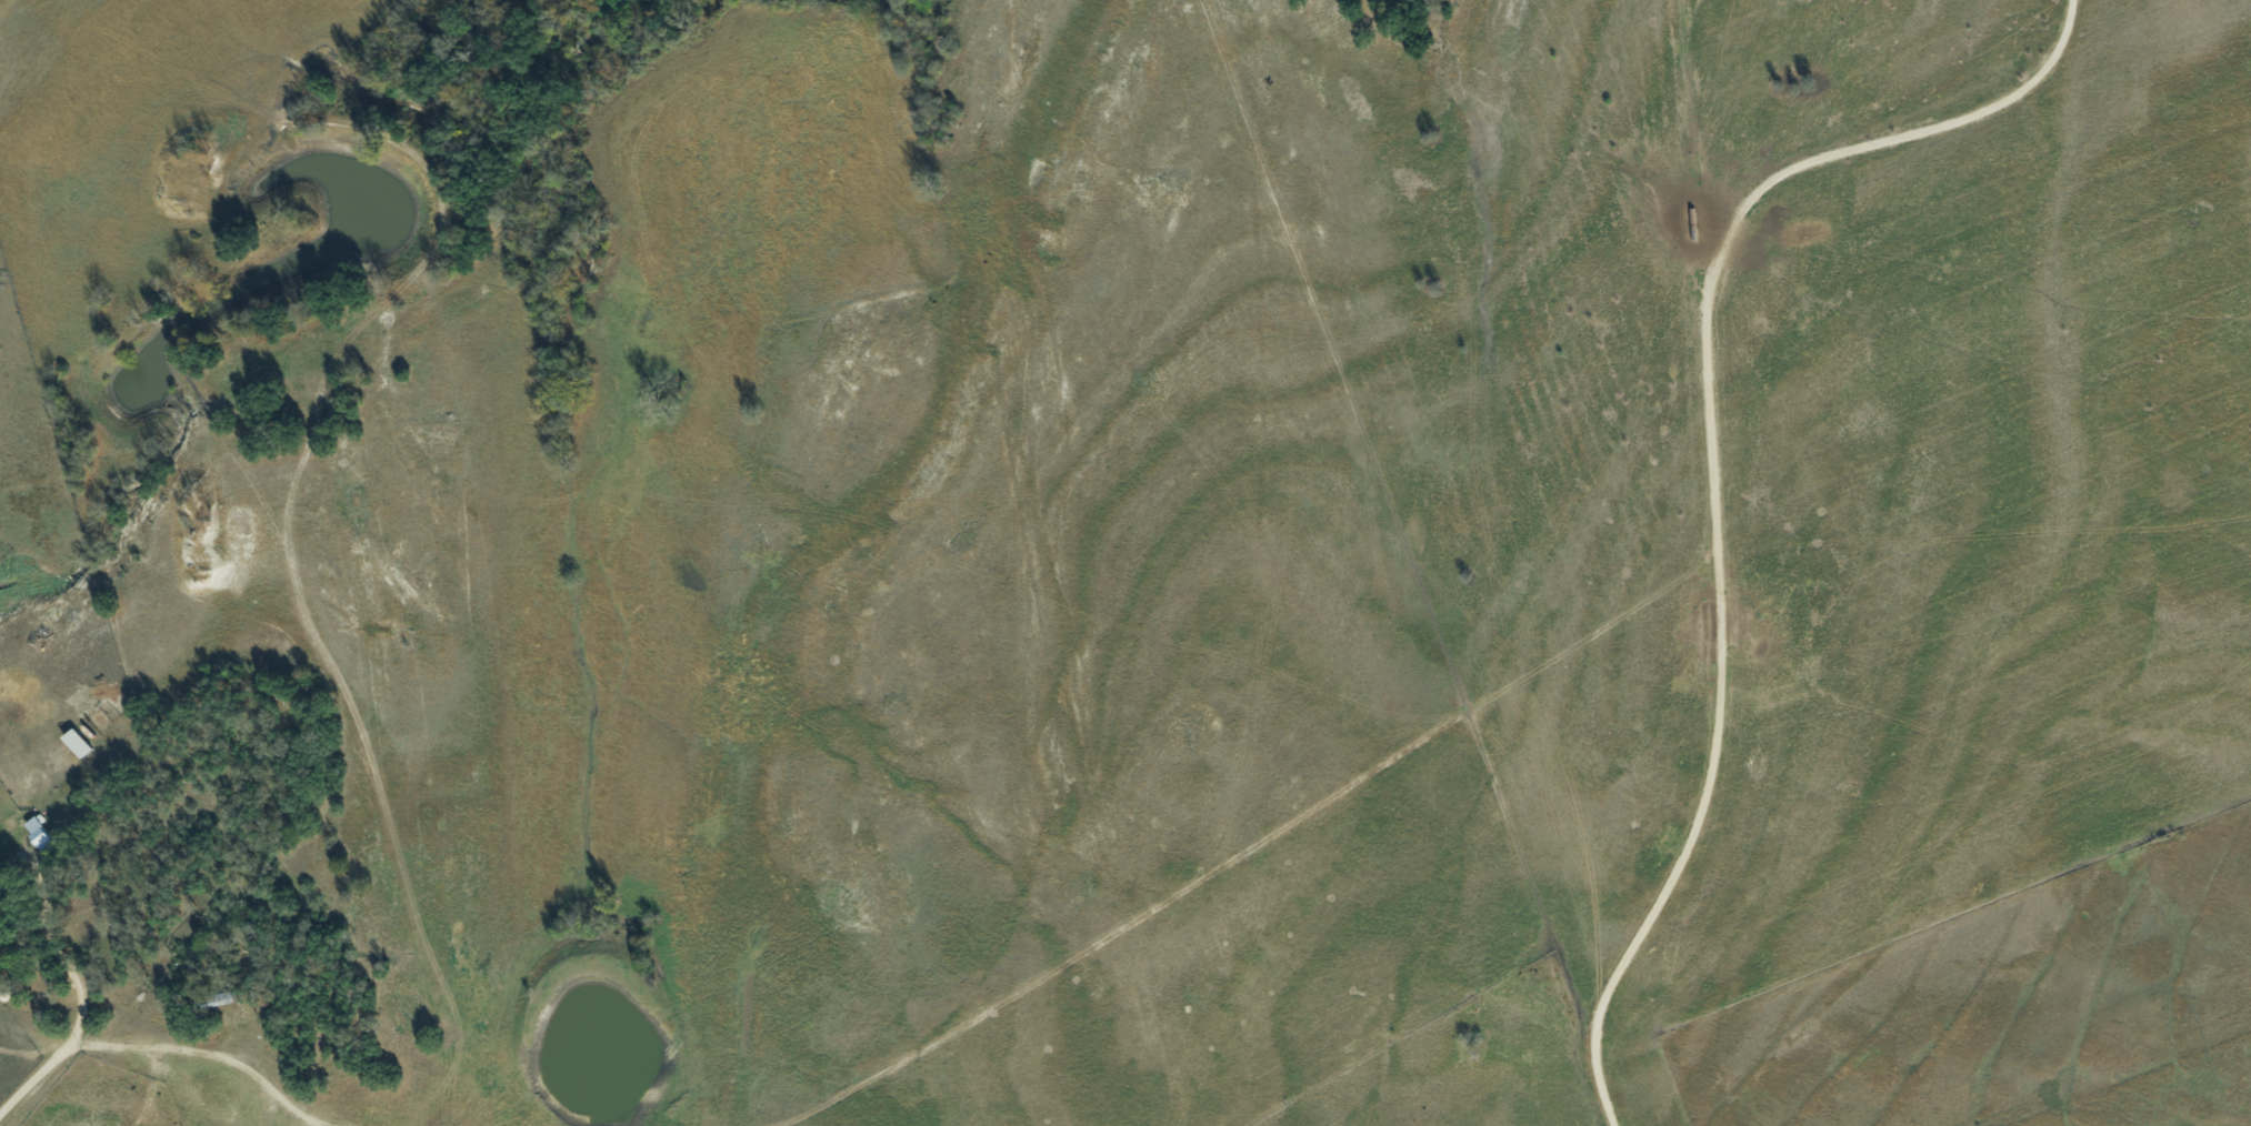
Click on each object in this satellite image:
road: (1711, 471)
building: (36, 833)
road: (77, 1027)

